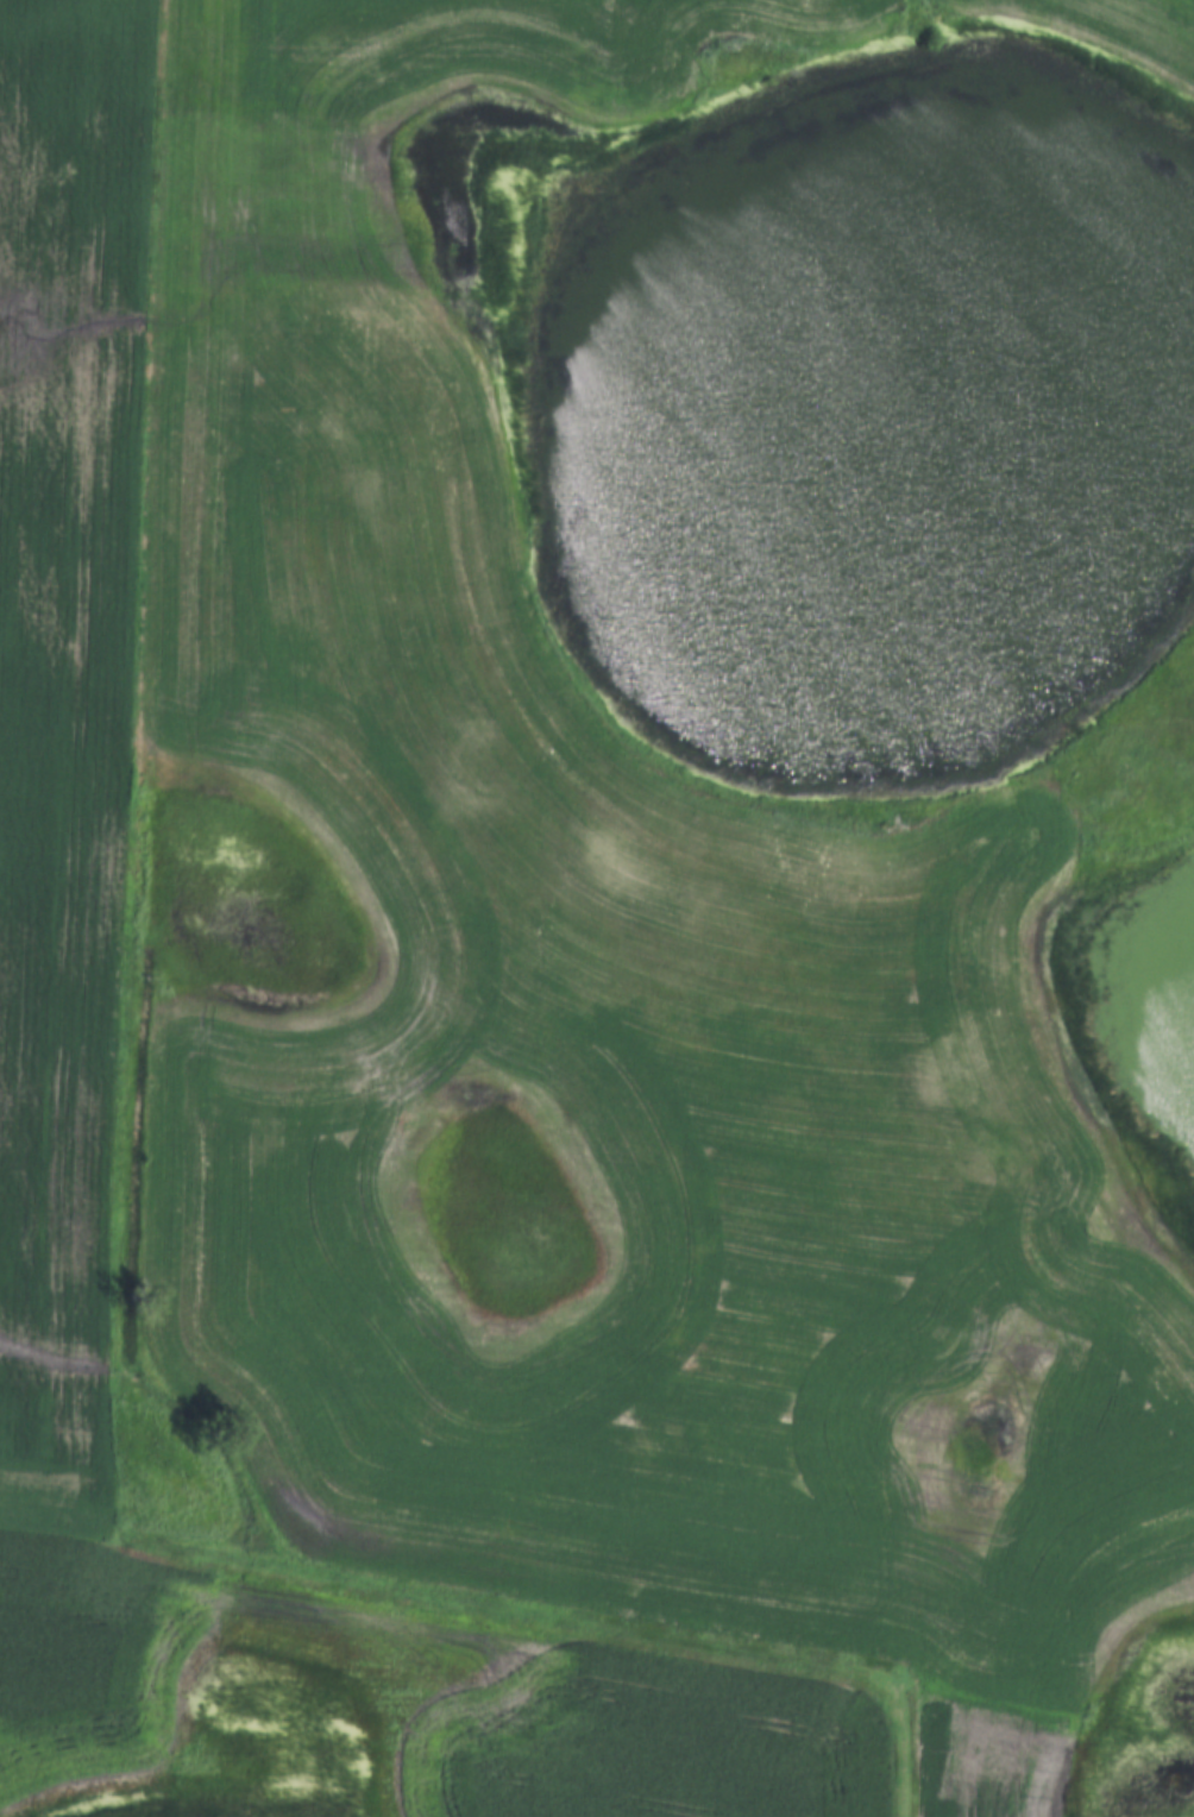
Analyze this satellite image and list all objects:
road: (930, 1796)

